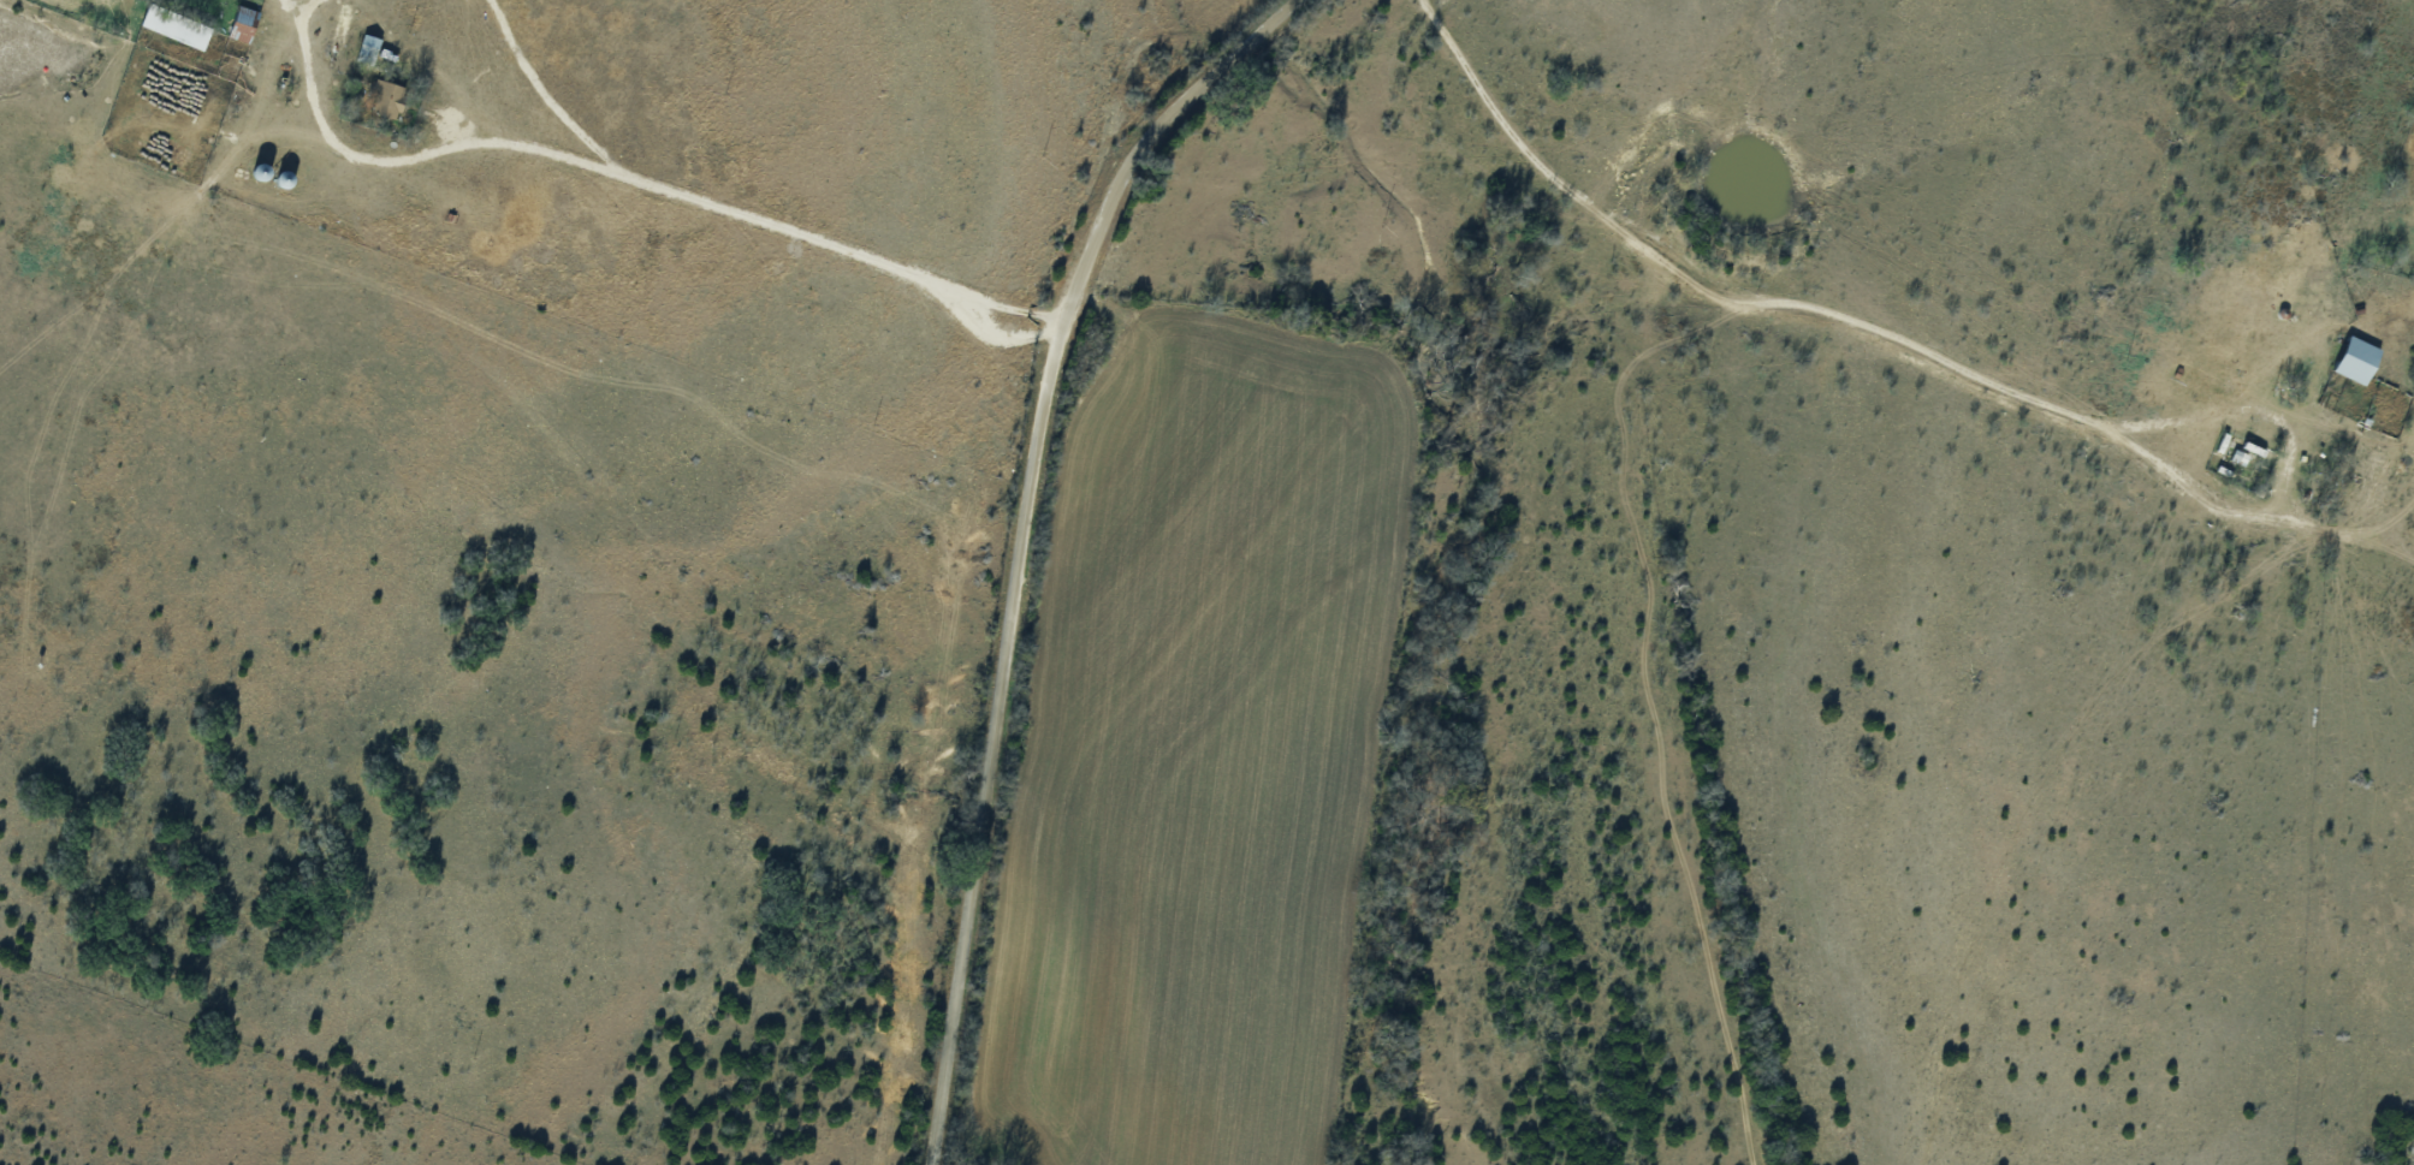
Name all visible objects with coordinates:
building: (243, 24)
building: (174, 26)
building: (367, 49)
building: (386, 99)
road: (1525, 144)
building: (260, 172)
building: (284, 179)
road: (615, 203)
road: (1715, 317)
building: (2357, 359)
road: (1055, 539)

